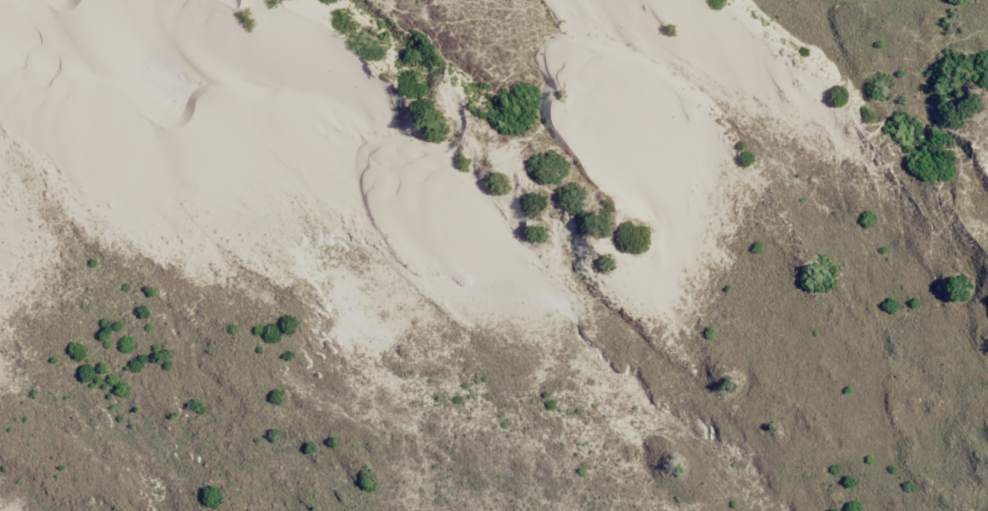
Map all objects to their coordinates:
road: (796, 18)

